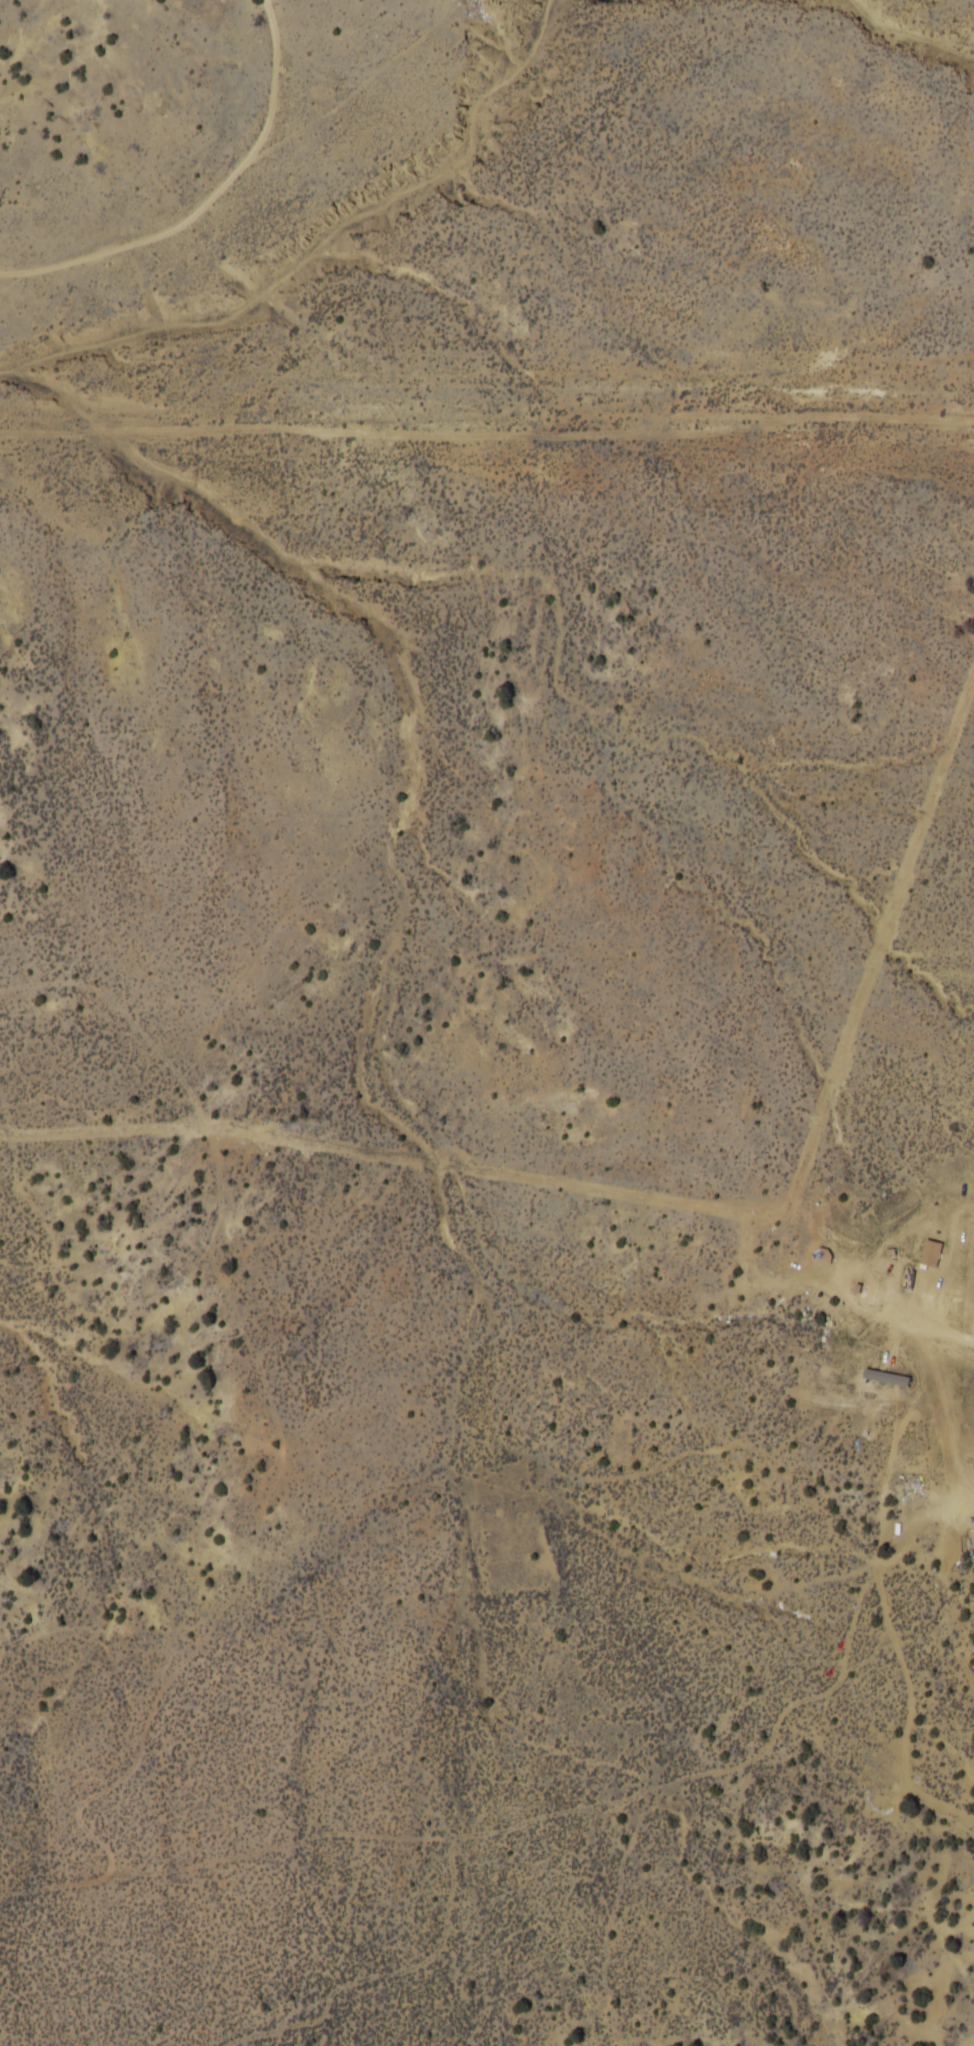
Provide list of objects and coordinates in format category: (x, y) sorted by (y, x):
building: (931, 1254)
building: (865, 1292)
road: (939, 1330)

